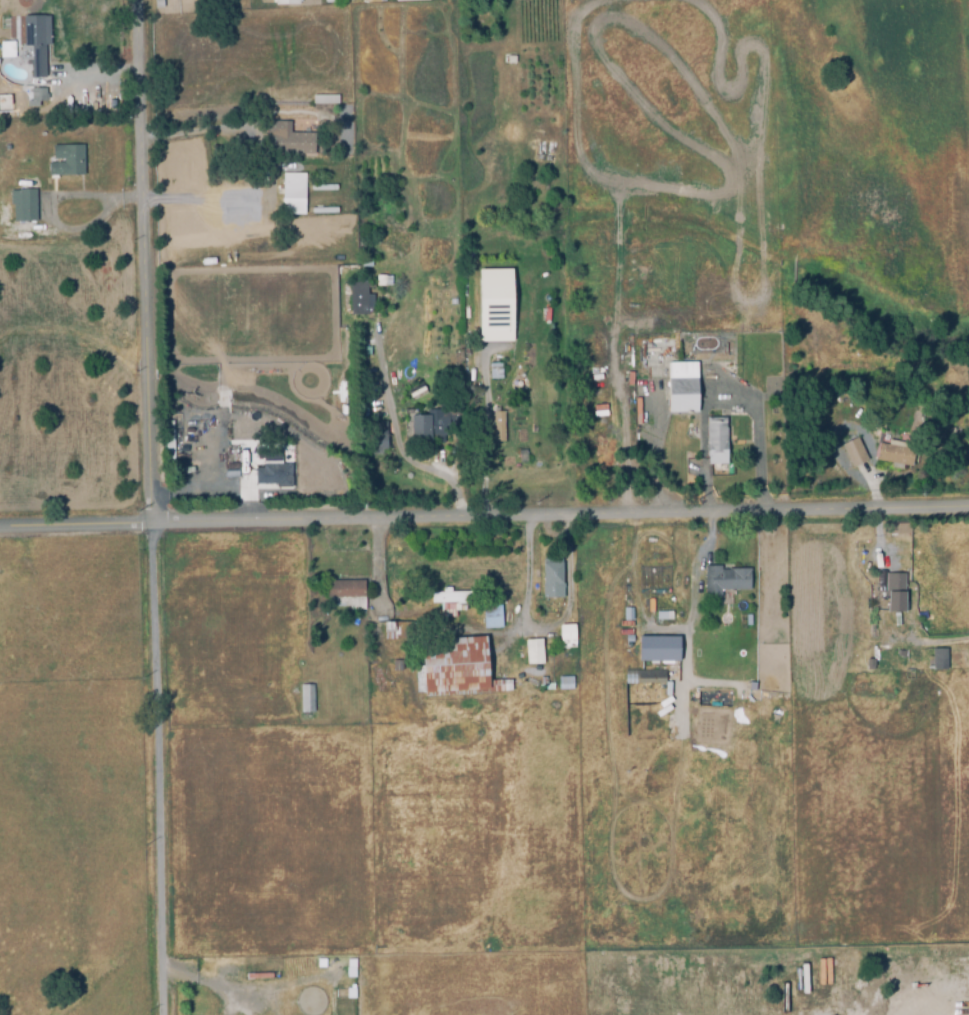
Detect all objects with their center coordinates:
building: (396, 0)
building: (267, 3)
building: (283, 3)
building: (37, 45)
building: (7, 52)
building: (514, 56)
building: (38, 96)
building: (325, 100)
road: (192, 129)
building: (282, 140)
building: (66, 162)
building: (293, 186)
building: (24, 207)
road: (146, 263)
building: (361, 299)
building: (494, 304)
building: (479, 344)
building: (495, 372)
building: (683, 388)
building: (434, 424)
building: (499, 428)
road: (486, 435)
building: (171, 439)
building: (377, 439)
road: (399, 441)
road: (758, 441)
building: (717, 442)
building: (855, 453)
road: (627, 455)
building: (896, 455)
building: (243, 456)
building: (276, 466)
building: (231, 470)
building: (231, 485)
road: (484, 518)
road: (376, 565)
road: (524, 575)
building: (550, 580)
building: (724, 581)
building: (894, 593)
road: (567, 595)
building: (346, 596)
building: (451, 604)
building: (668, 613)
building: (627, 616)
building: (319, 617)
building: (752, 617)
building: (491, 618)
building: (400, 632)
building: (565, 638)
building: (627, 640)
road: (931, 642)
building: (657, 648)
building: (532, 649)
building: (899, 655)
building: (923, 661)
building: (938, 661)
building: (868, 666)
building: (454, 670)
building: (875, 674)
building: (644, 678)
building: (564, 684)
building: (544, 685)
building: (305, 700)
building: (384, 709)
road: (158, 770)
building: (937, 969)
building: (872, 971)
building: (919, 979)
building: (942, 992)

